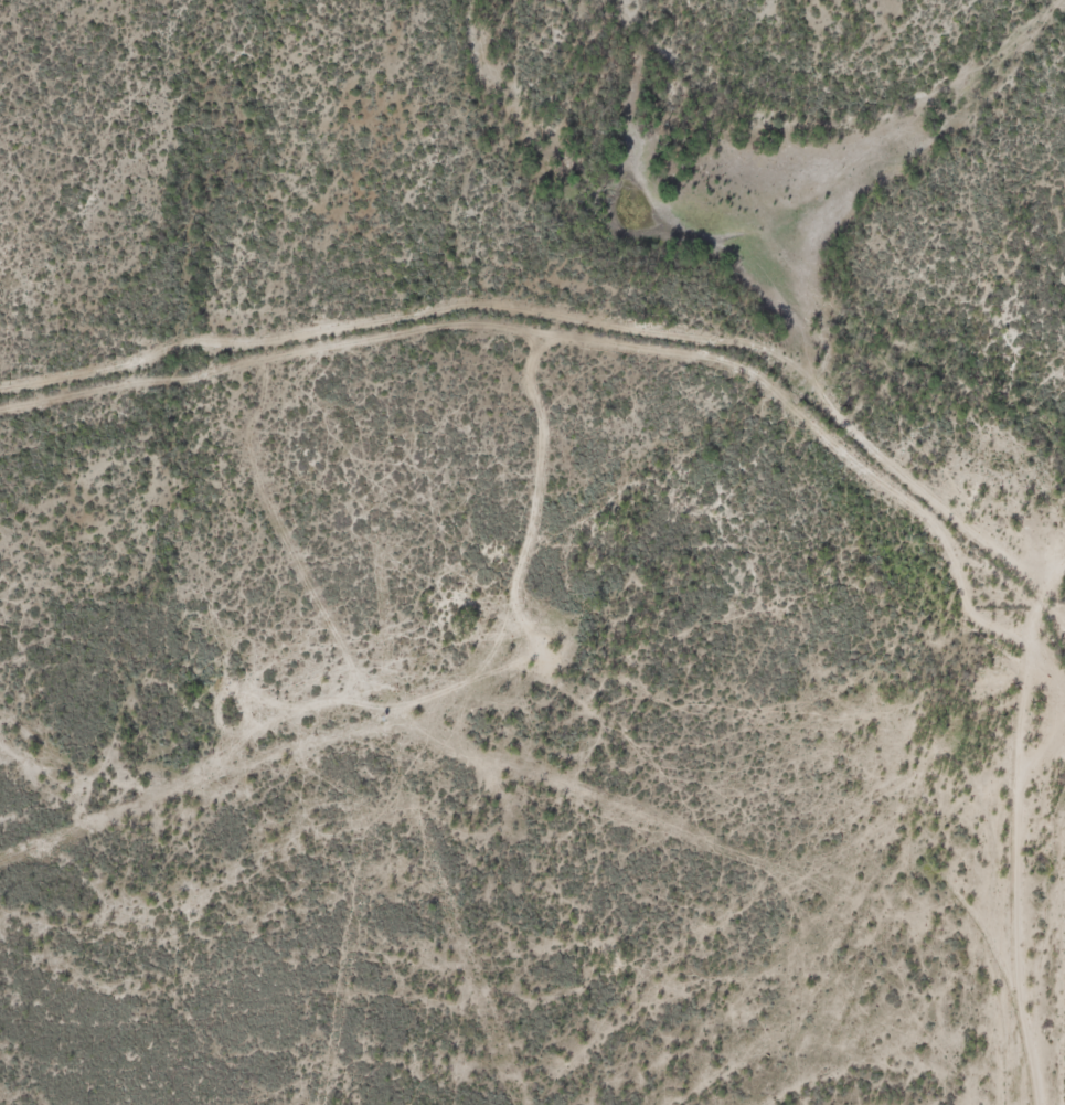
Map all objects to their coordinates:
road: (1024, 842)

